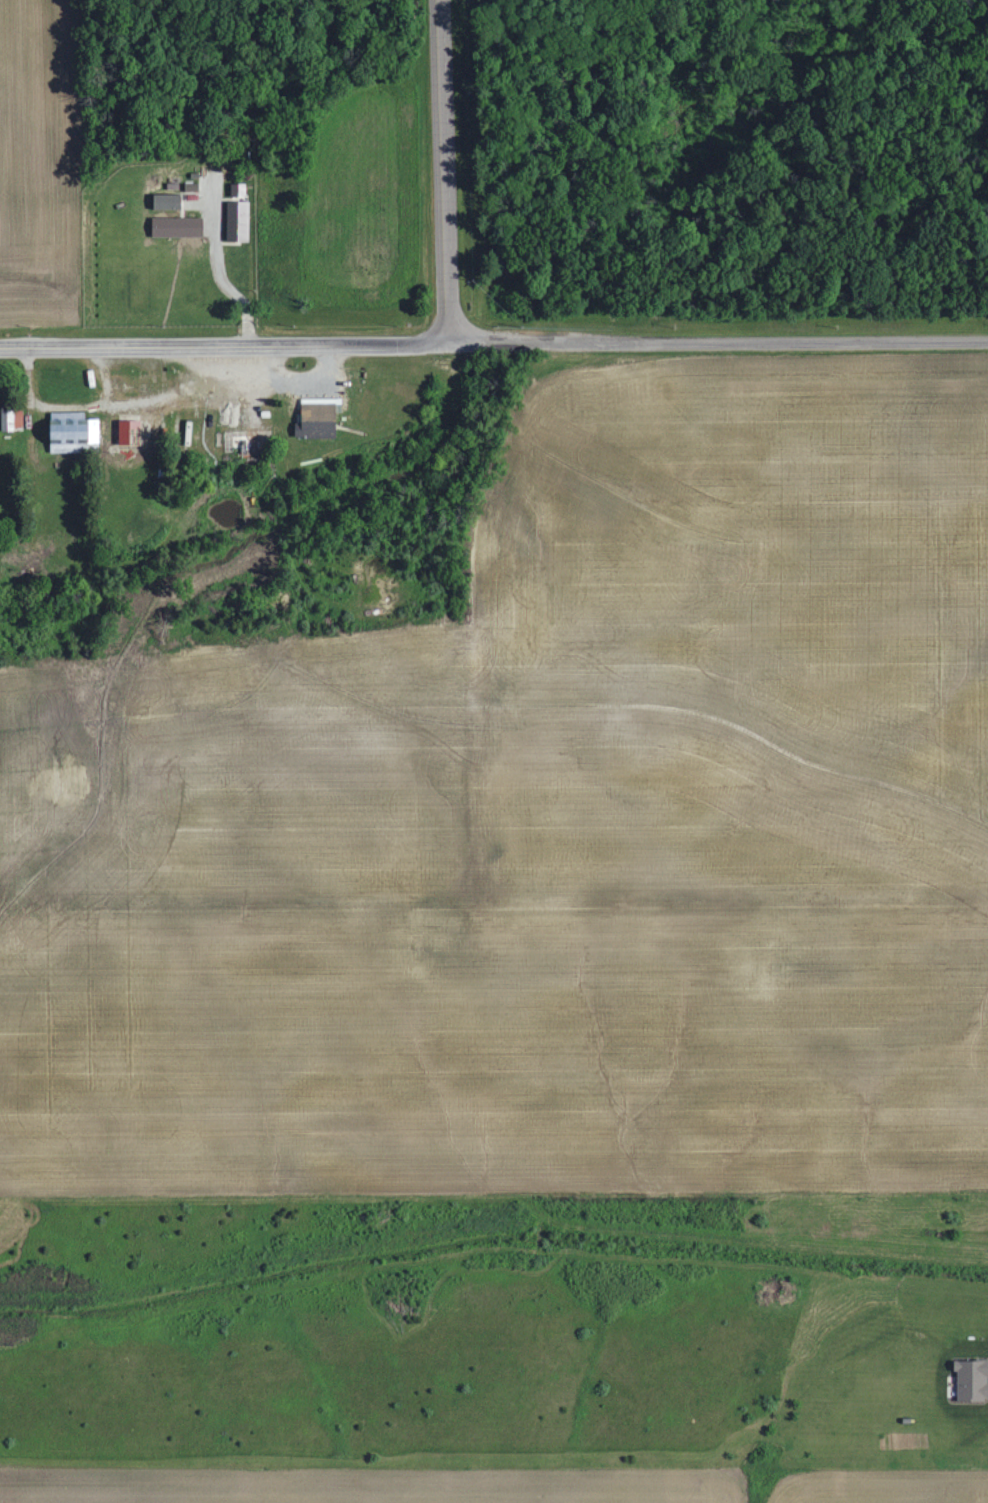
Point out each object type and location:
road: (443, 171)
building: (232, 188)
building: (162, 200)
building: (231, 219)
building: (171, 225)
road: (213, 265)
road: (718, 341)
road: (224, 344)
road: (270, 361)
road: (207, 363)
road: (278, 377)
road: (106, 379)
parking lot: (323, 381)
road: (245, 401)
road: (91, 405)
building: (316, 416)
building: (7, 417)
road: (206, 422)
building: (124, 431)
building: (70, 433)
building: (971, 1380)

